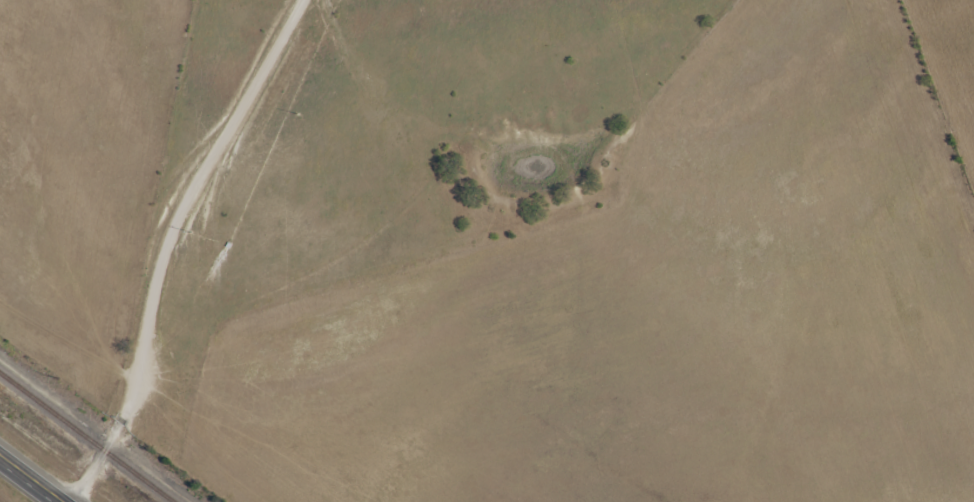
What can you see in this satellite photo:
road: (167, 242)
railway: (86, 437)
road: (30, 479)

